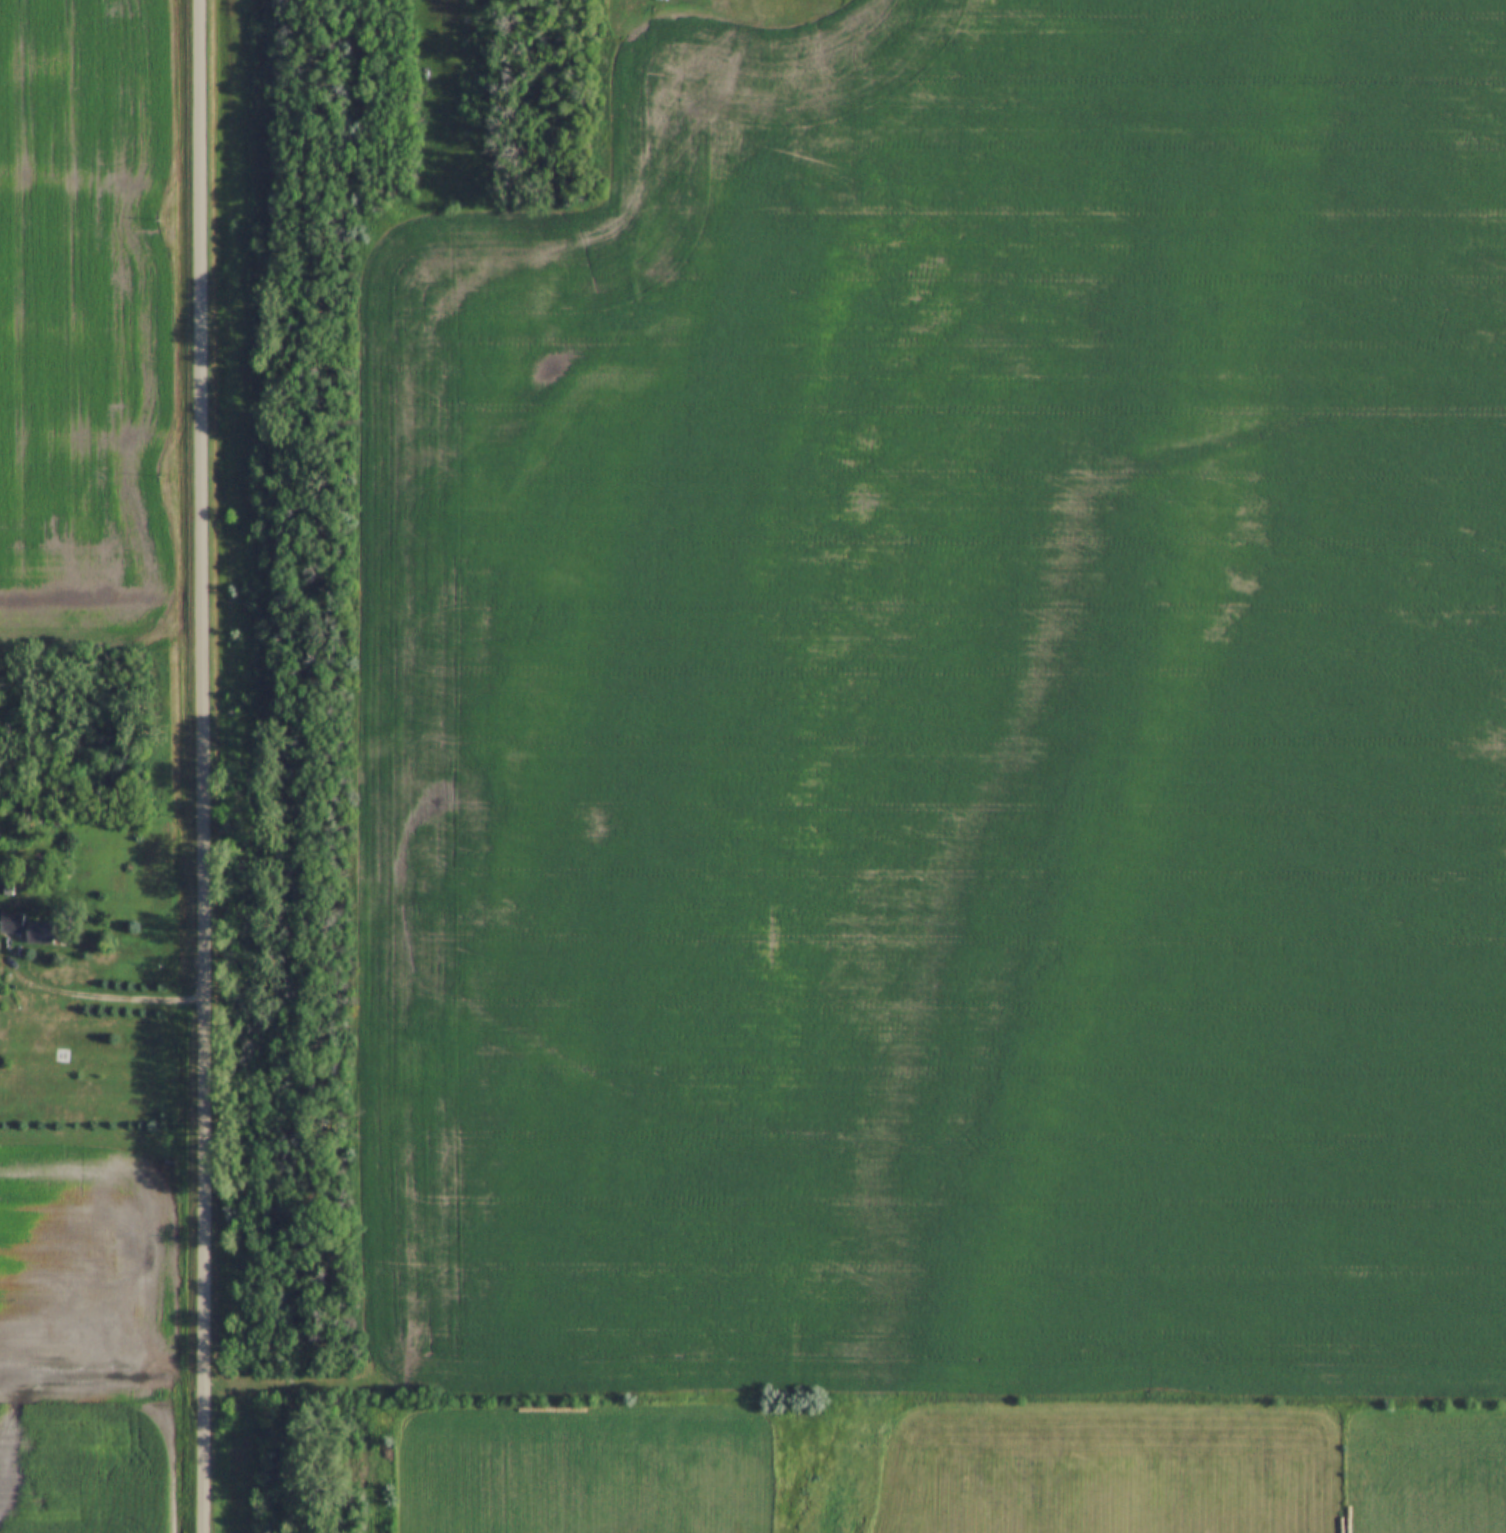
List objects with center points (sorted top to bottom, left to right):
road: (202, 766)
building: (11, 923)
building: (45, 932)
road: (102, 1001)

